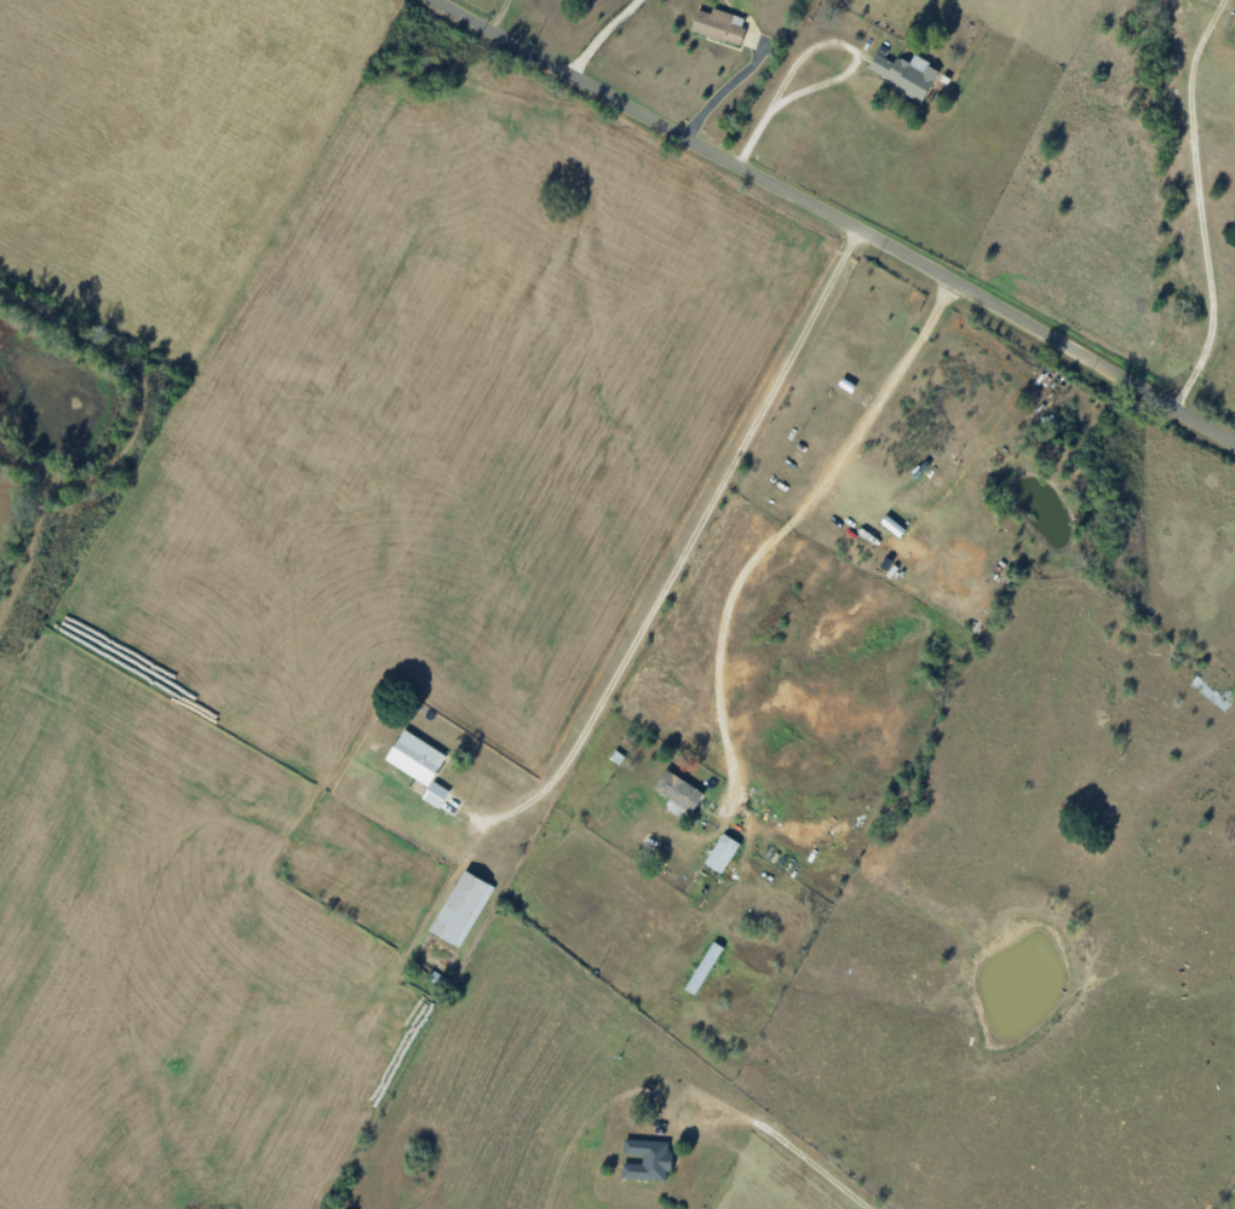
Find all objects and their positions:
building: (719, 25)
road: (610, 41)
road: (816, 63)
building: (904, 74)
road: (722, 109)
road: (1212, 215)
road: (828, 225)
road: (793, 534)
road: (701, 551)
building: (415, 758)
building: (677, 794)
building: (435, 795)
building: (722, 853)
building: (461, 909)
building: (703, 968)
road: (820, 1155)
building: (647, 1159)

